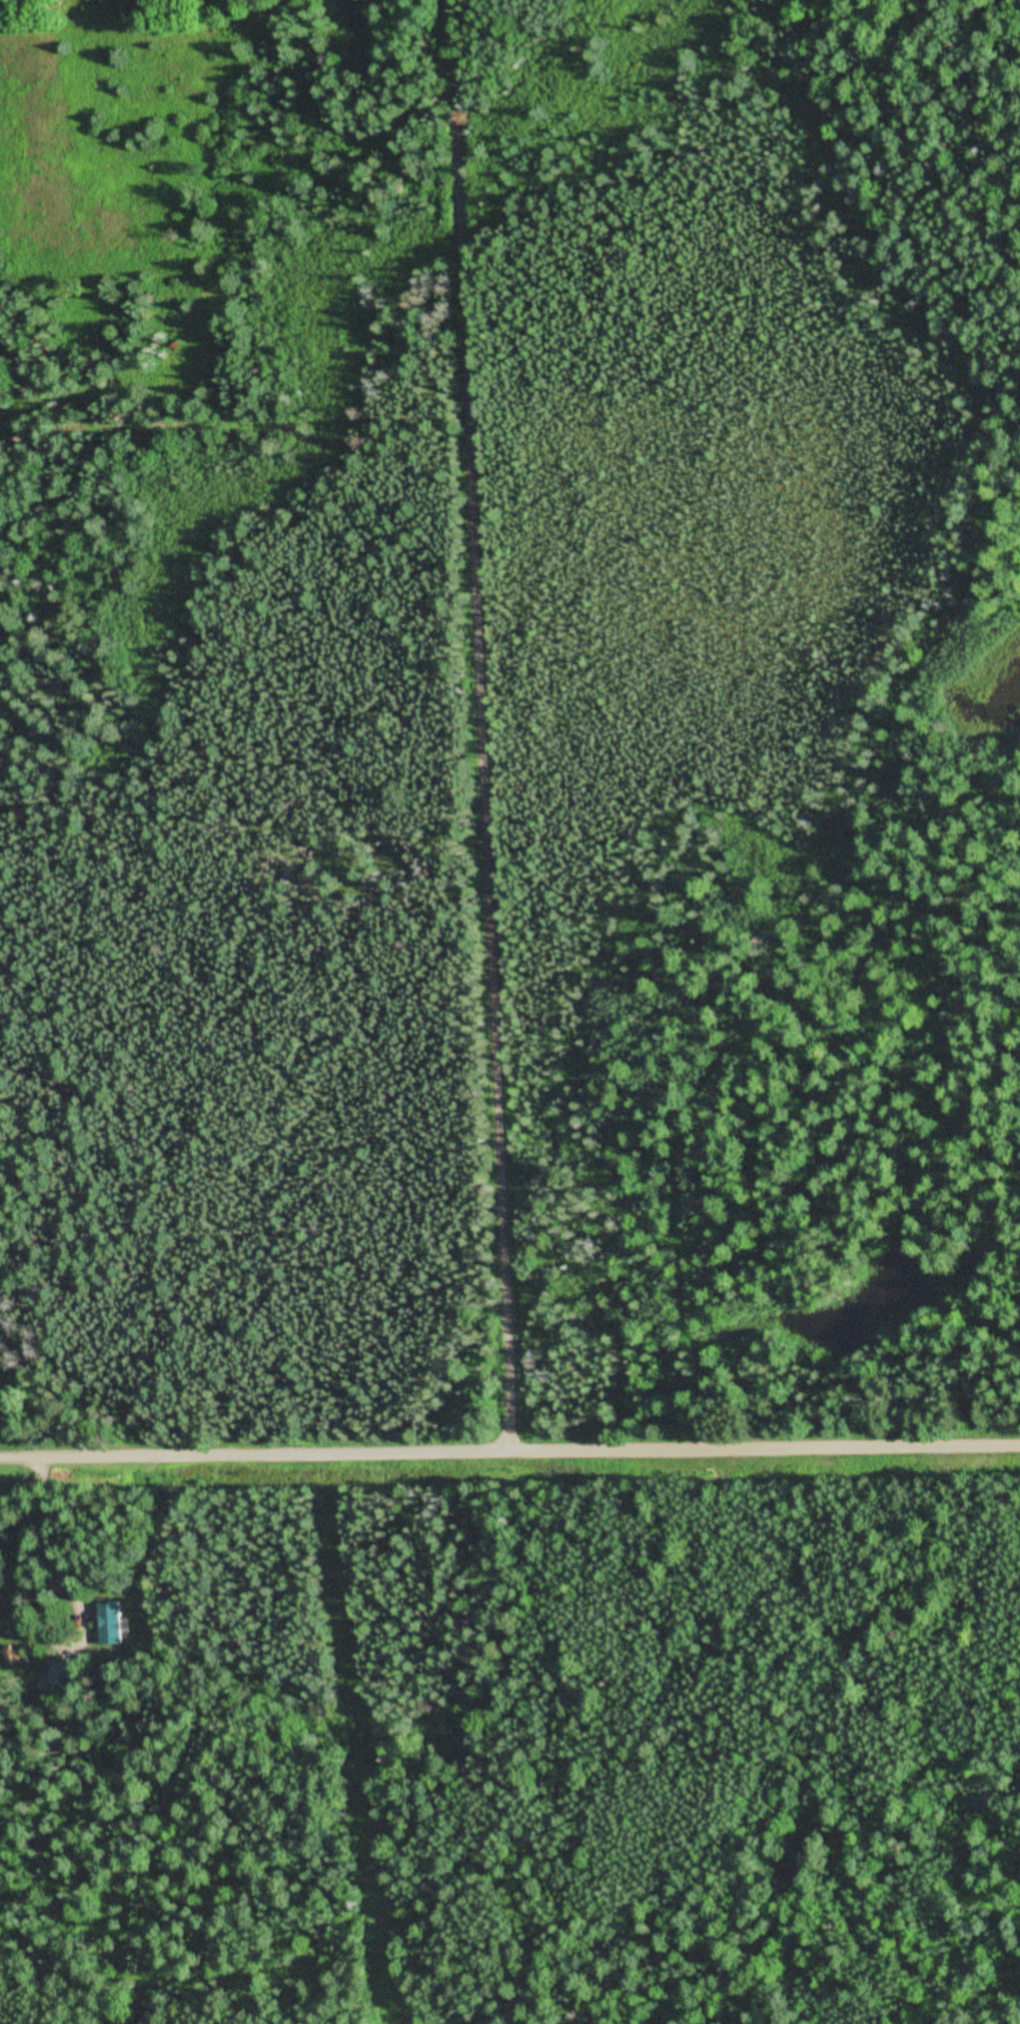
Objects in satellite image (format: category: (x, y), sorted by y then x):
road: (465, 722)
road: (509, 1444)
building: (113, 1620)

